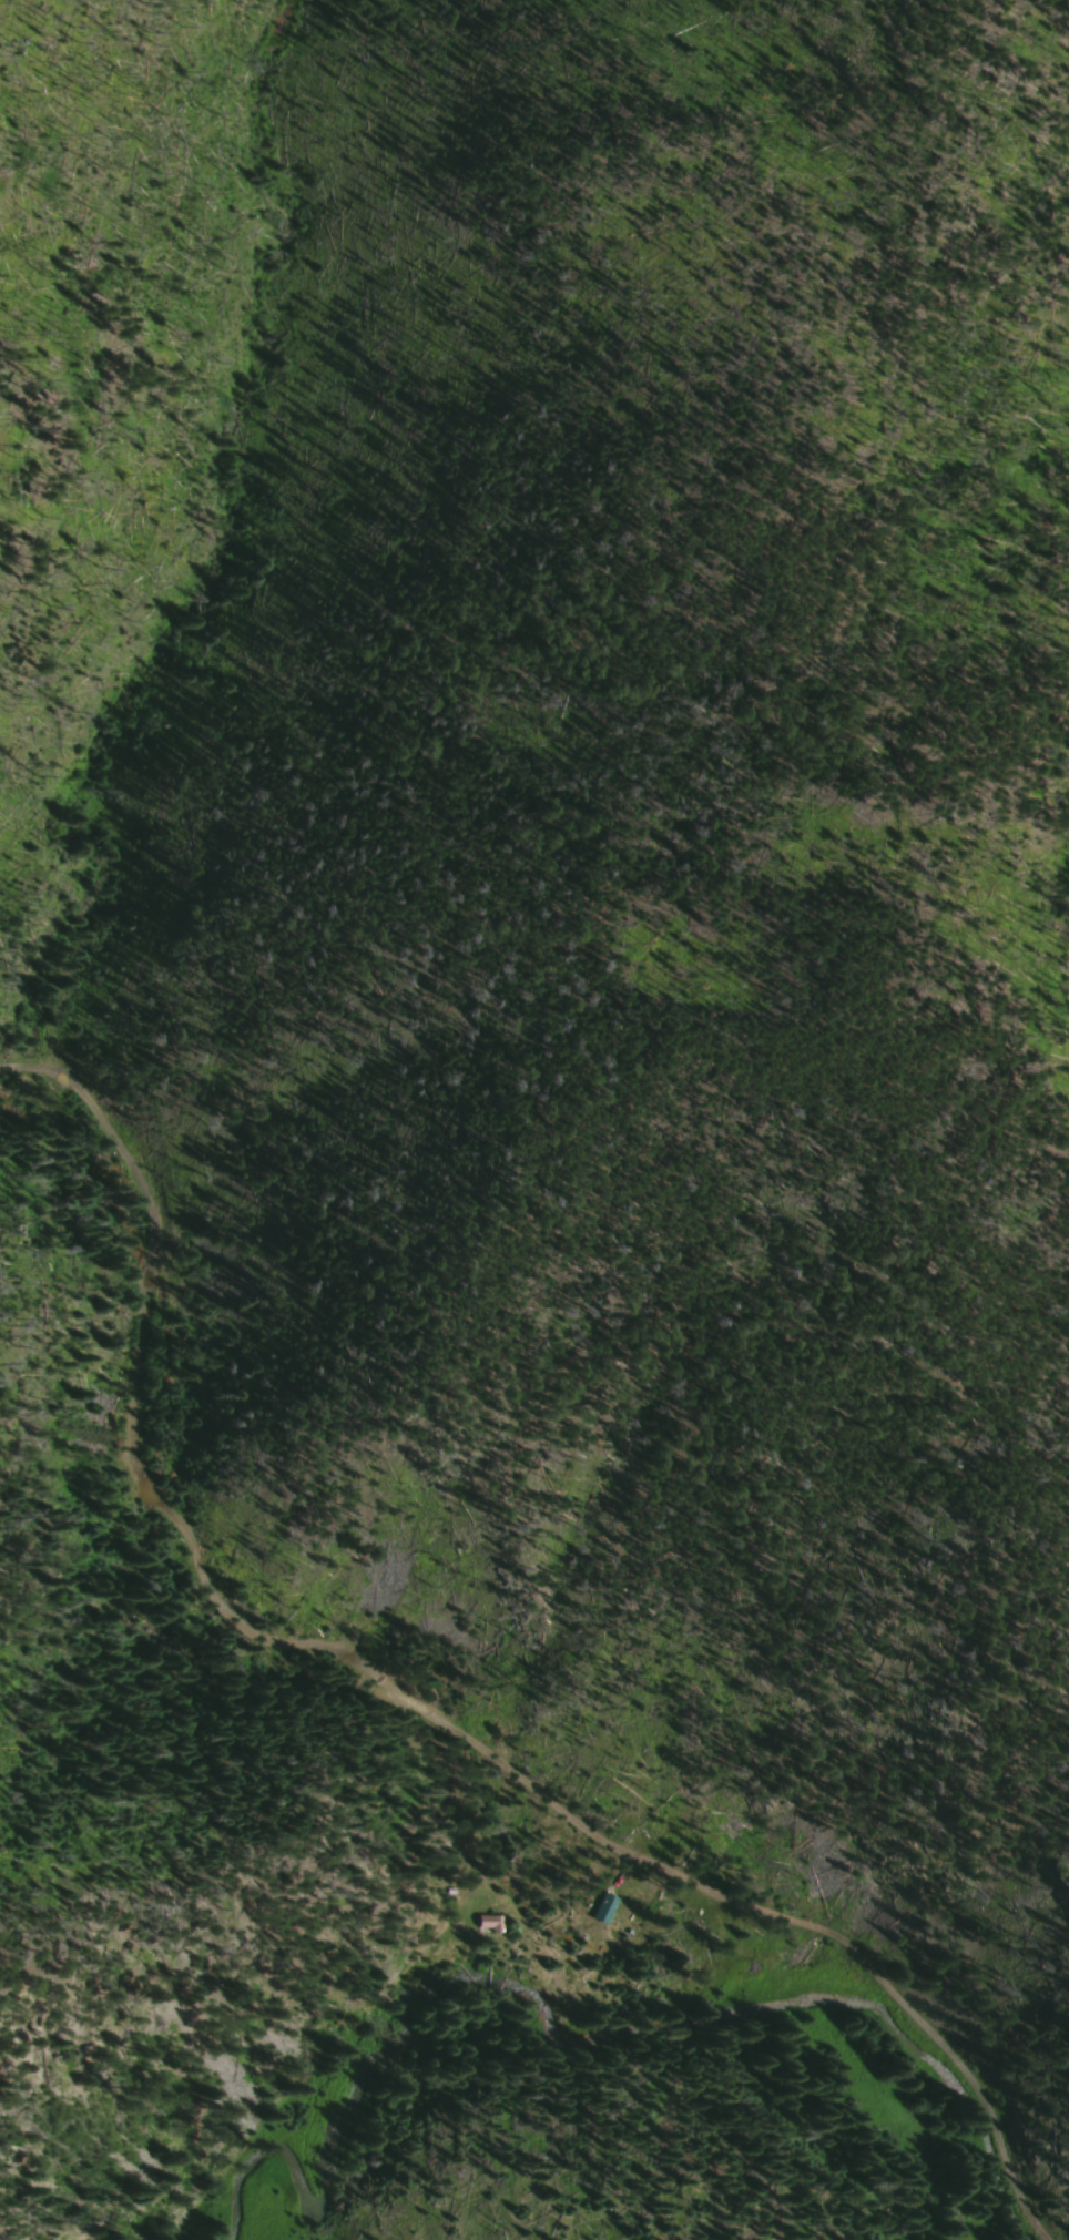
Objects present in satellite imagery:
road: (415, 1701)
road: (465, 1842)
building: (603, 1908)
building: (488, 1924)
river: (792, 2005)
river: (327, 2155)

